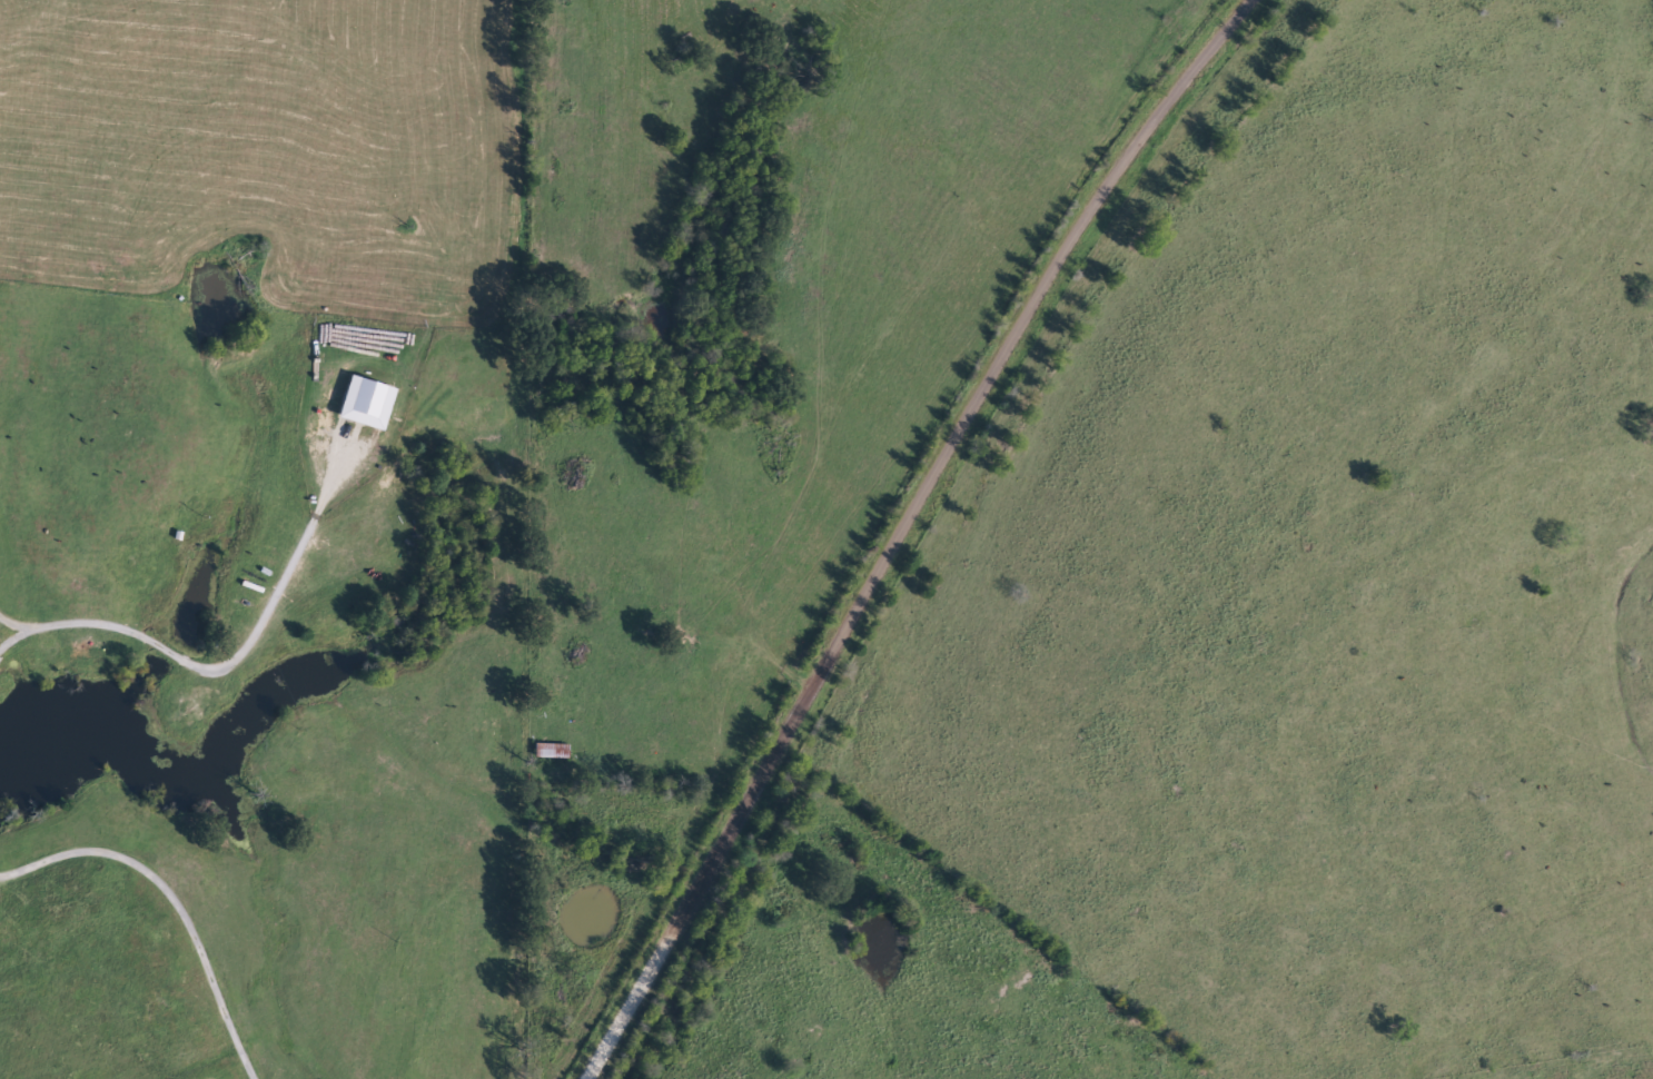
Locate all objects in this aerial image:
building: (366, 403)
road: (915, 526)

